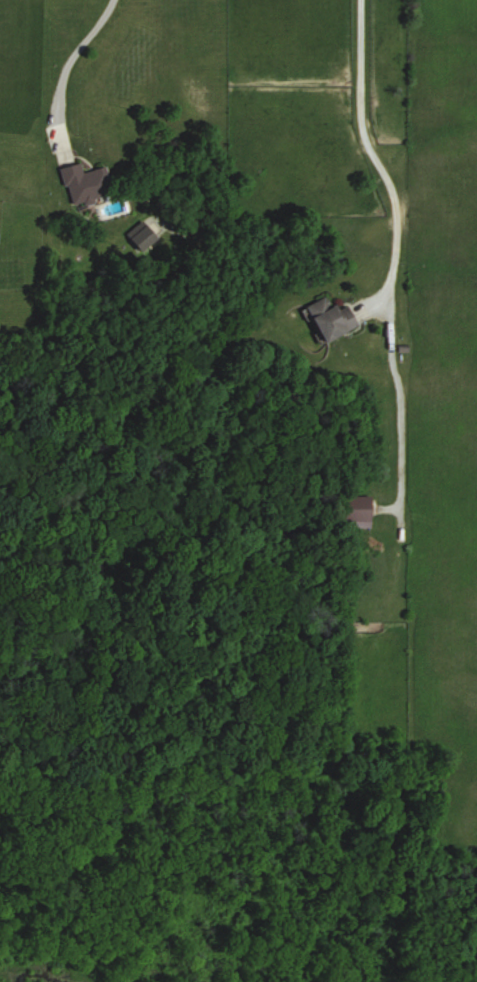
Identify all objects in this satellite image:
road: (66, 64)
road: (376, 157)
building: (86, 183)
building: (331, 318)
building: (355, 508)

